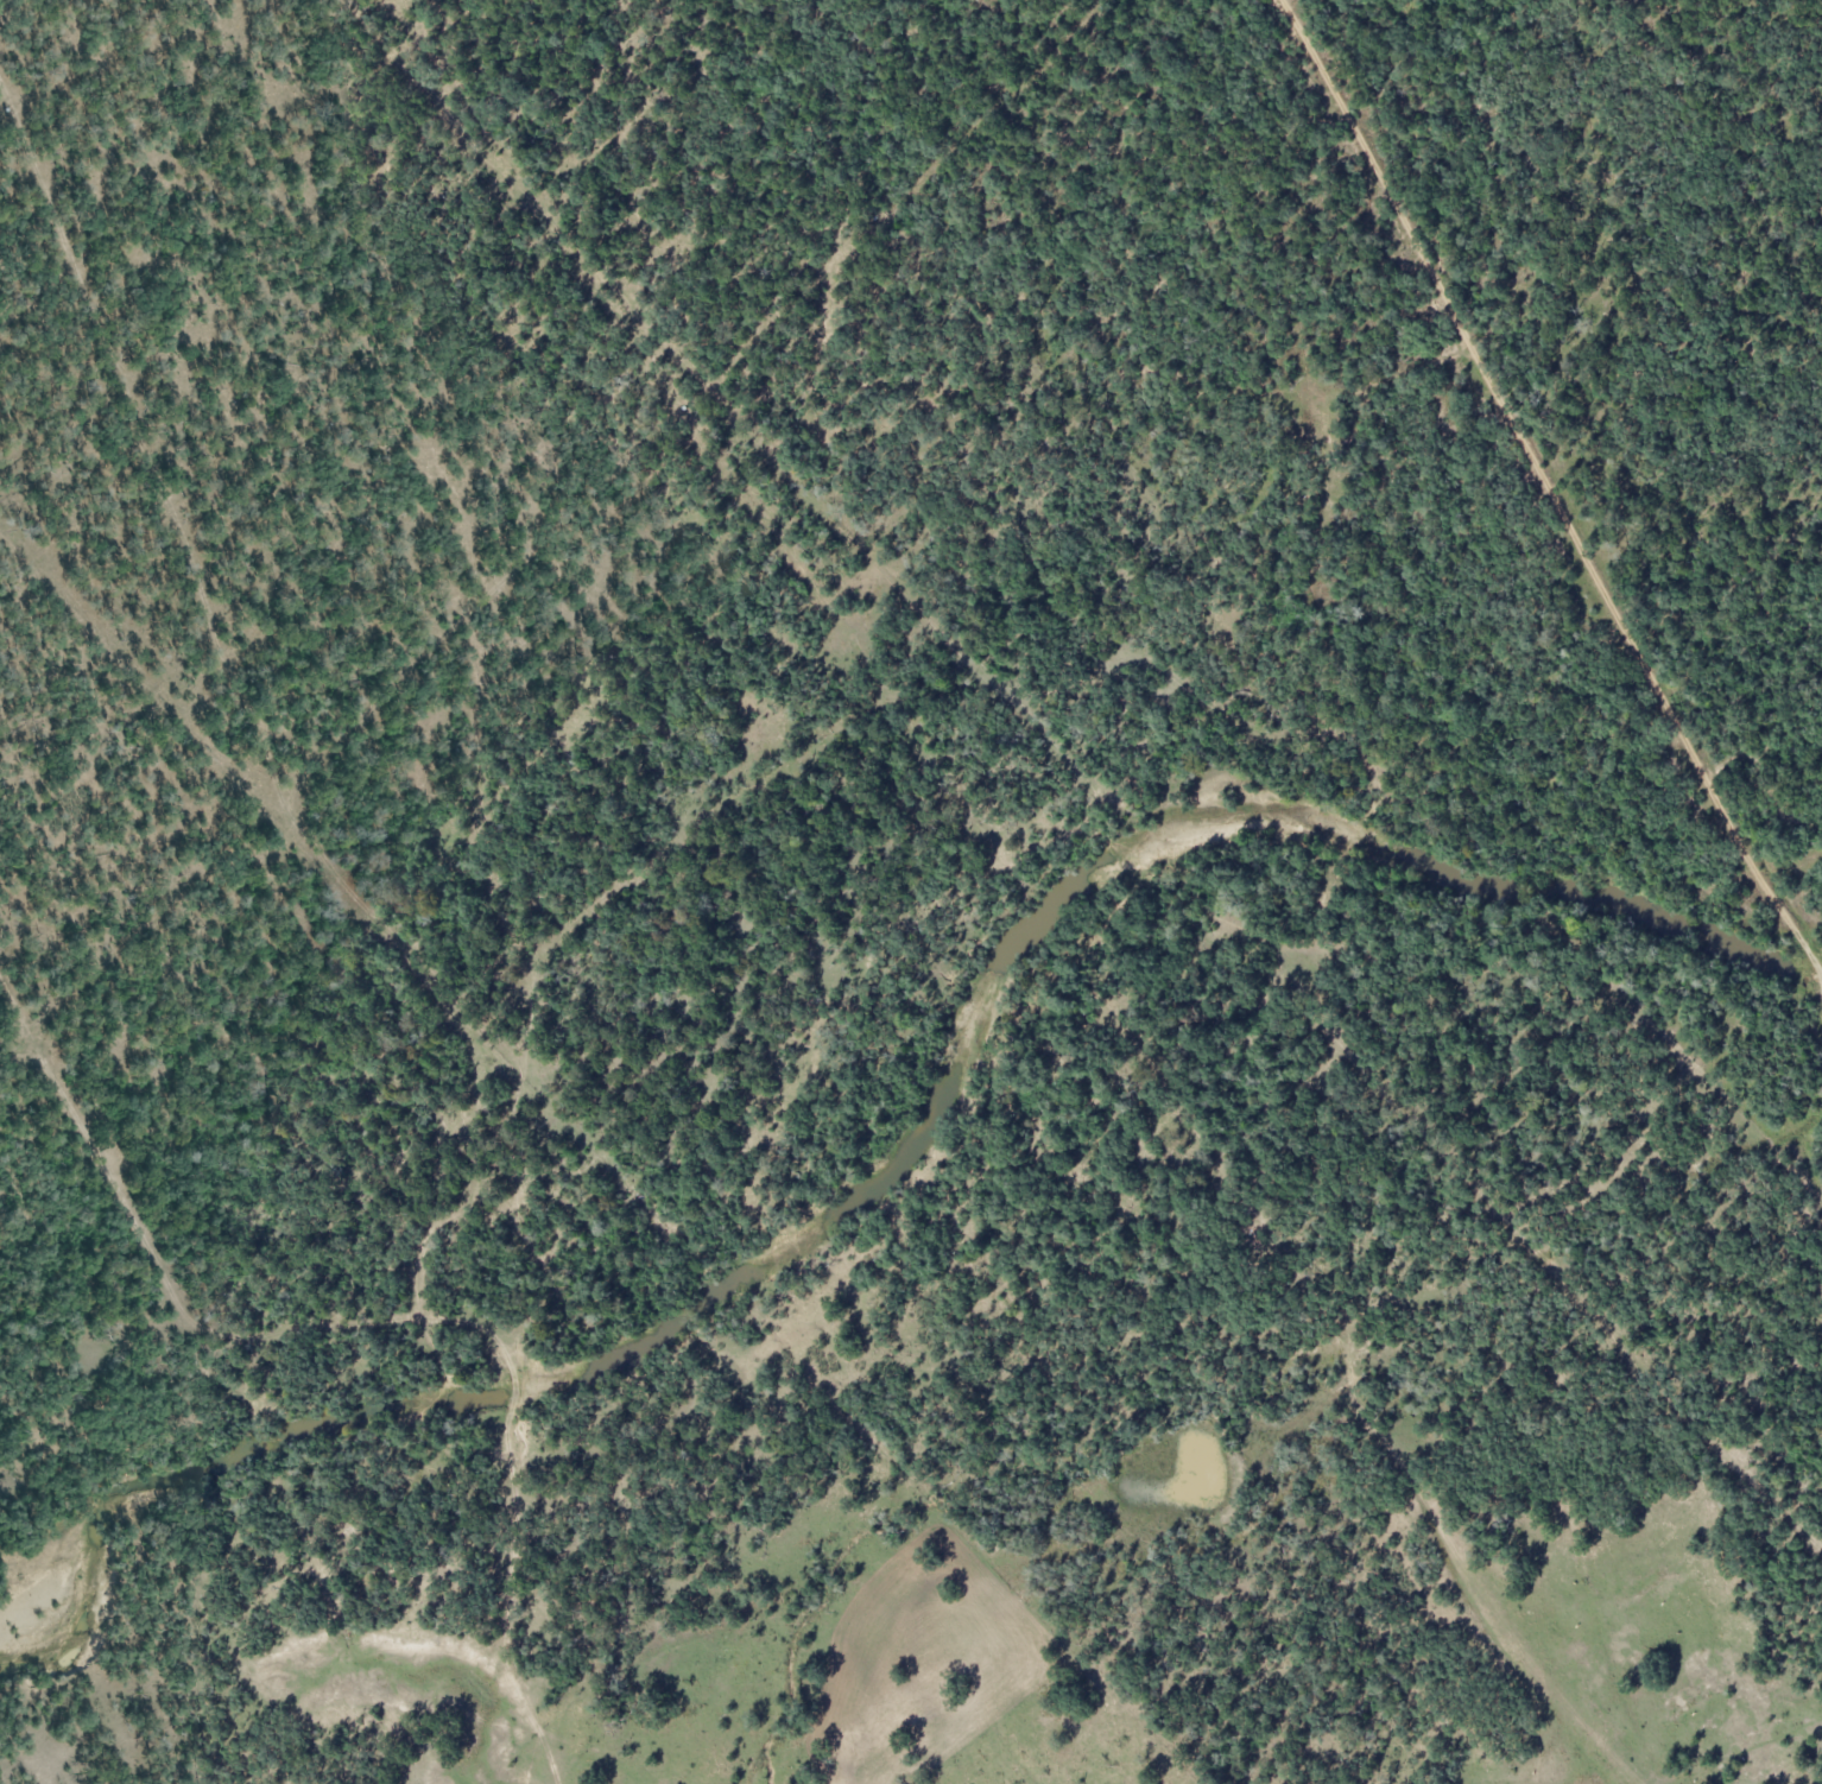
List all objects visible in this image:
road: (1539, 461)

